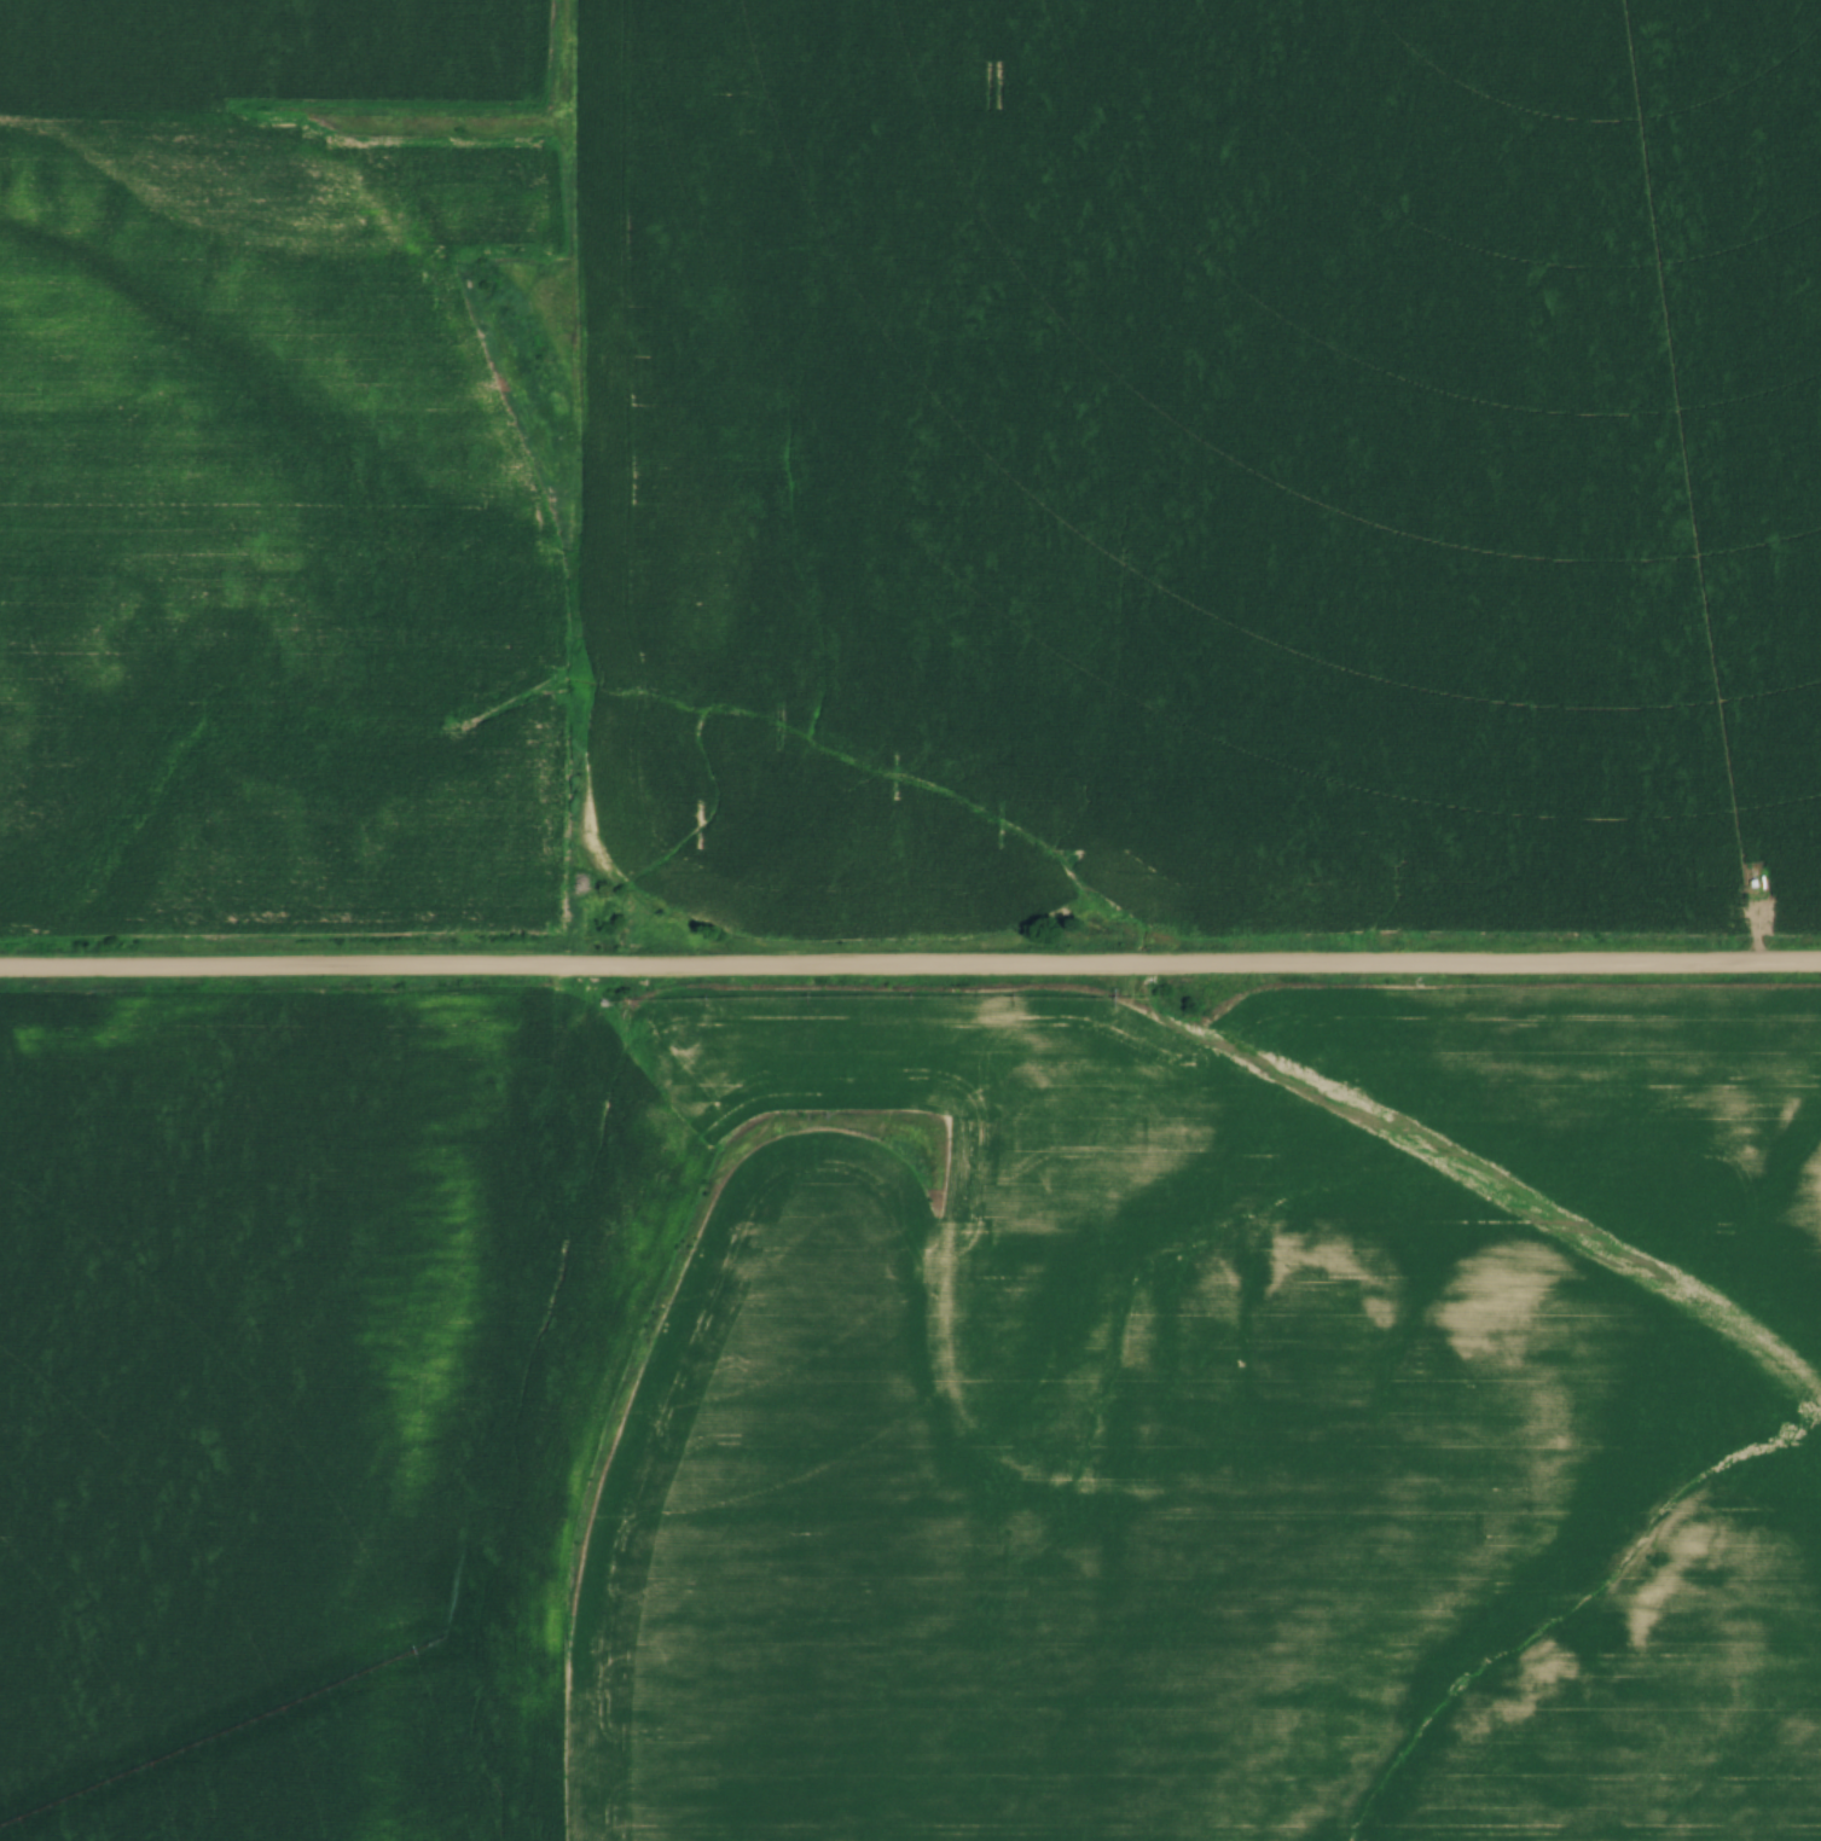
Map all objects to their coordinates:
road: (910, 975)

